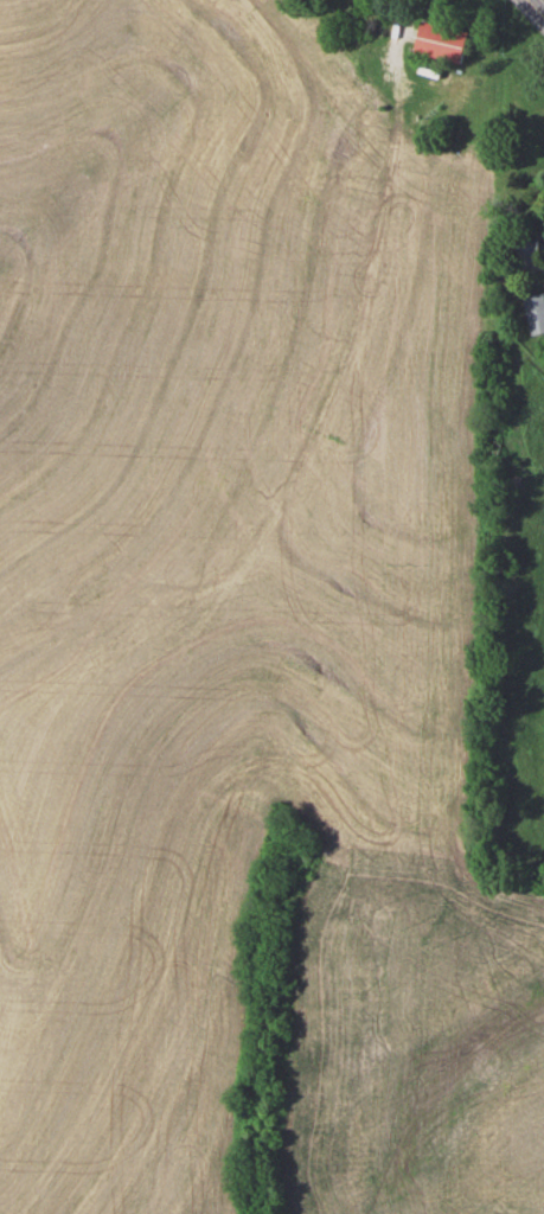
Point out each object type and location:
road: (536, 7)
building: (441, 41)
building: (526, 248)
building: (535, 313)
road: (321, 396)

